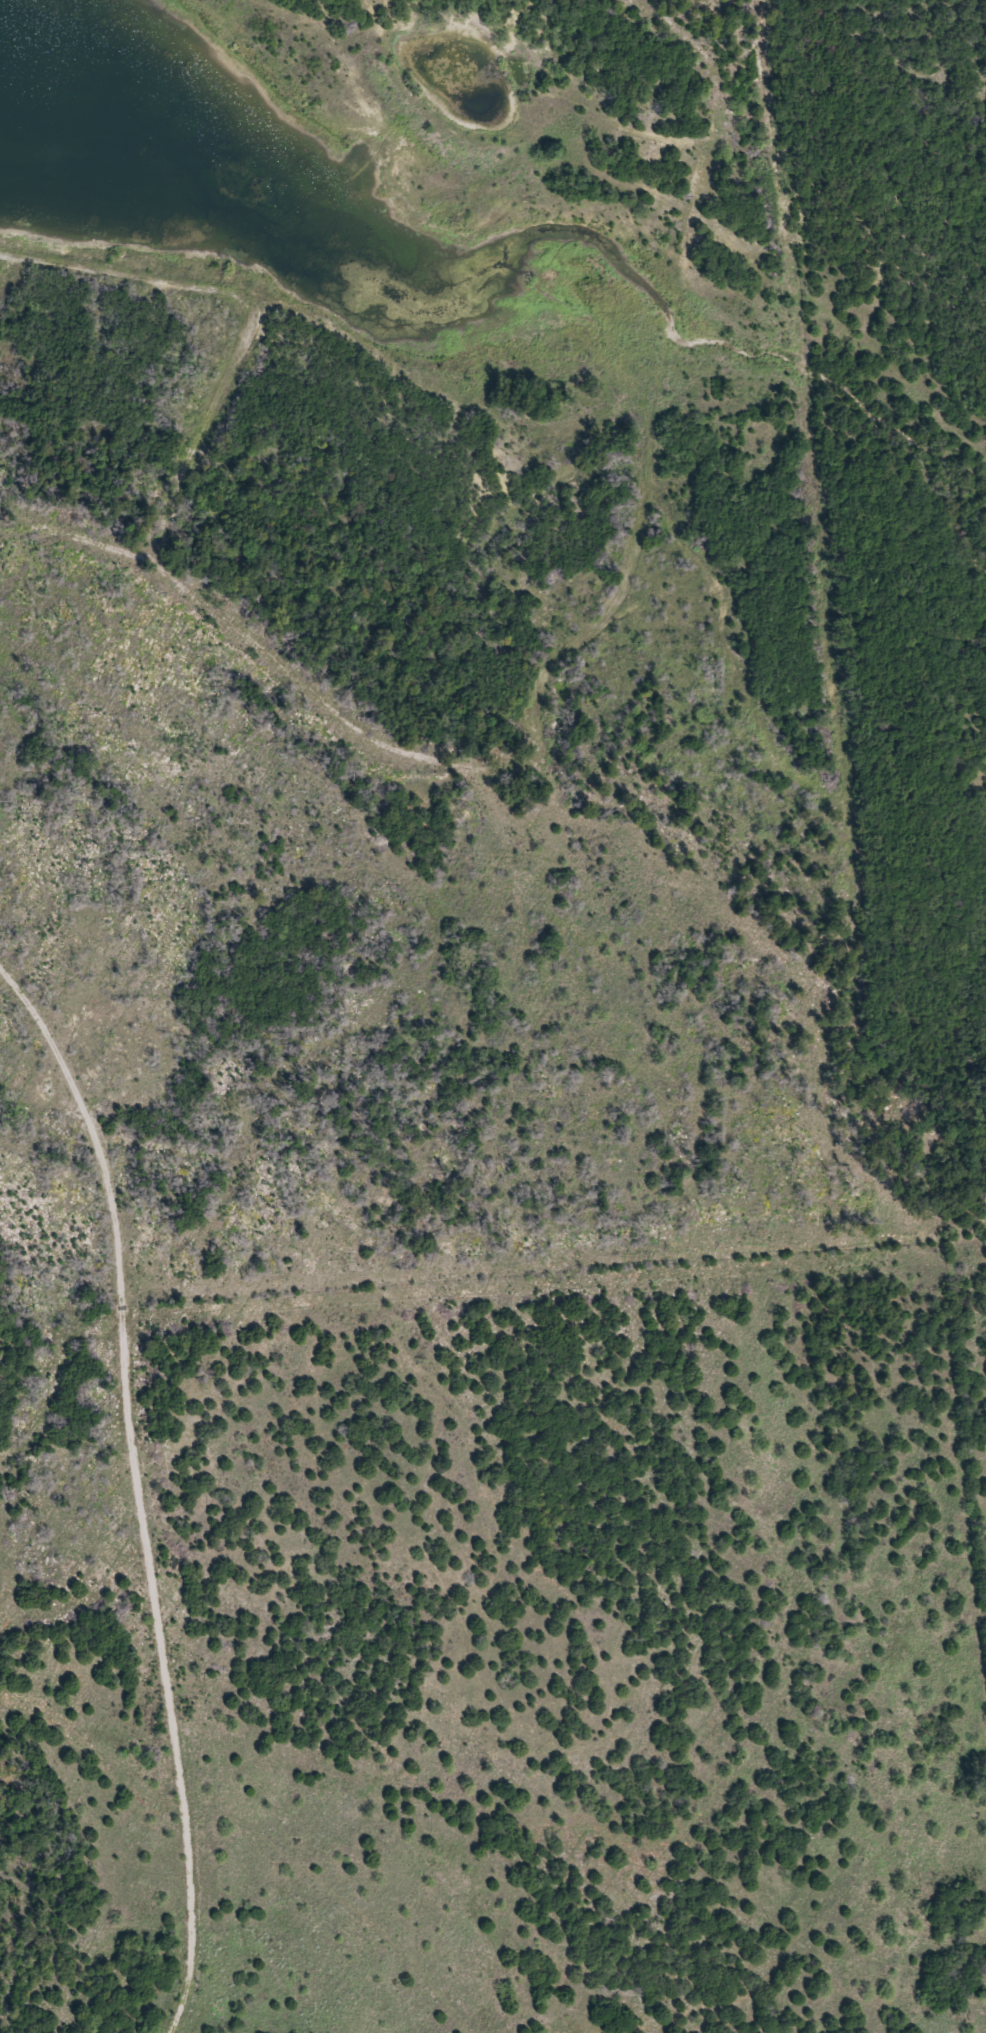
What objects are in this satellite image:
road: (545, 138)

